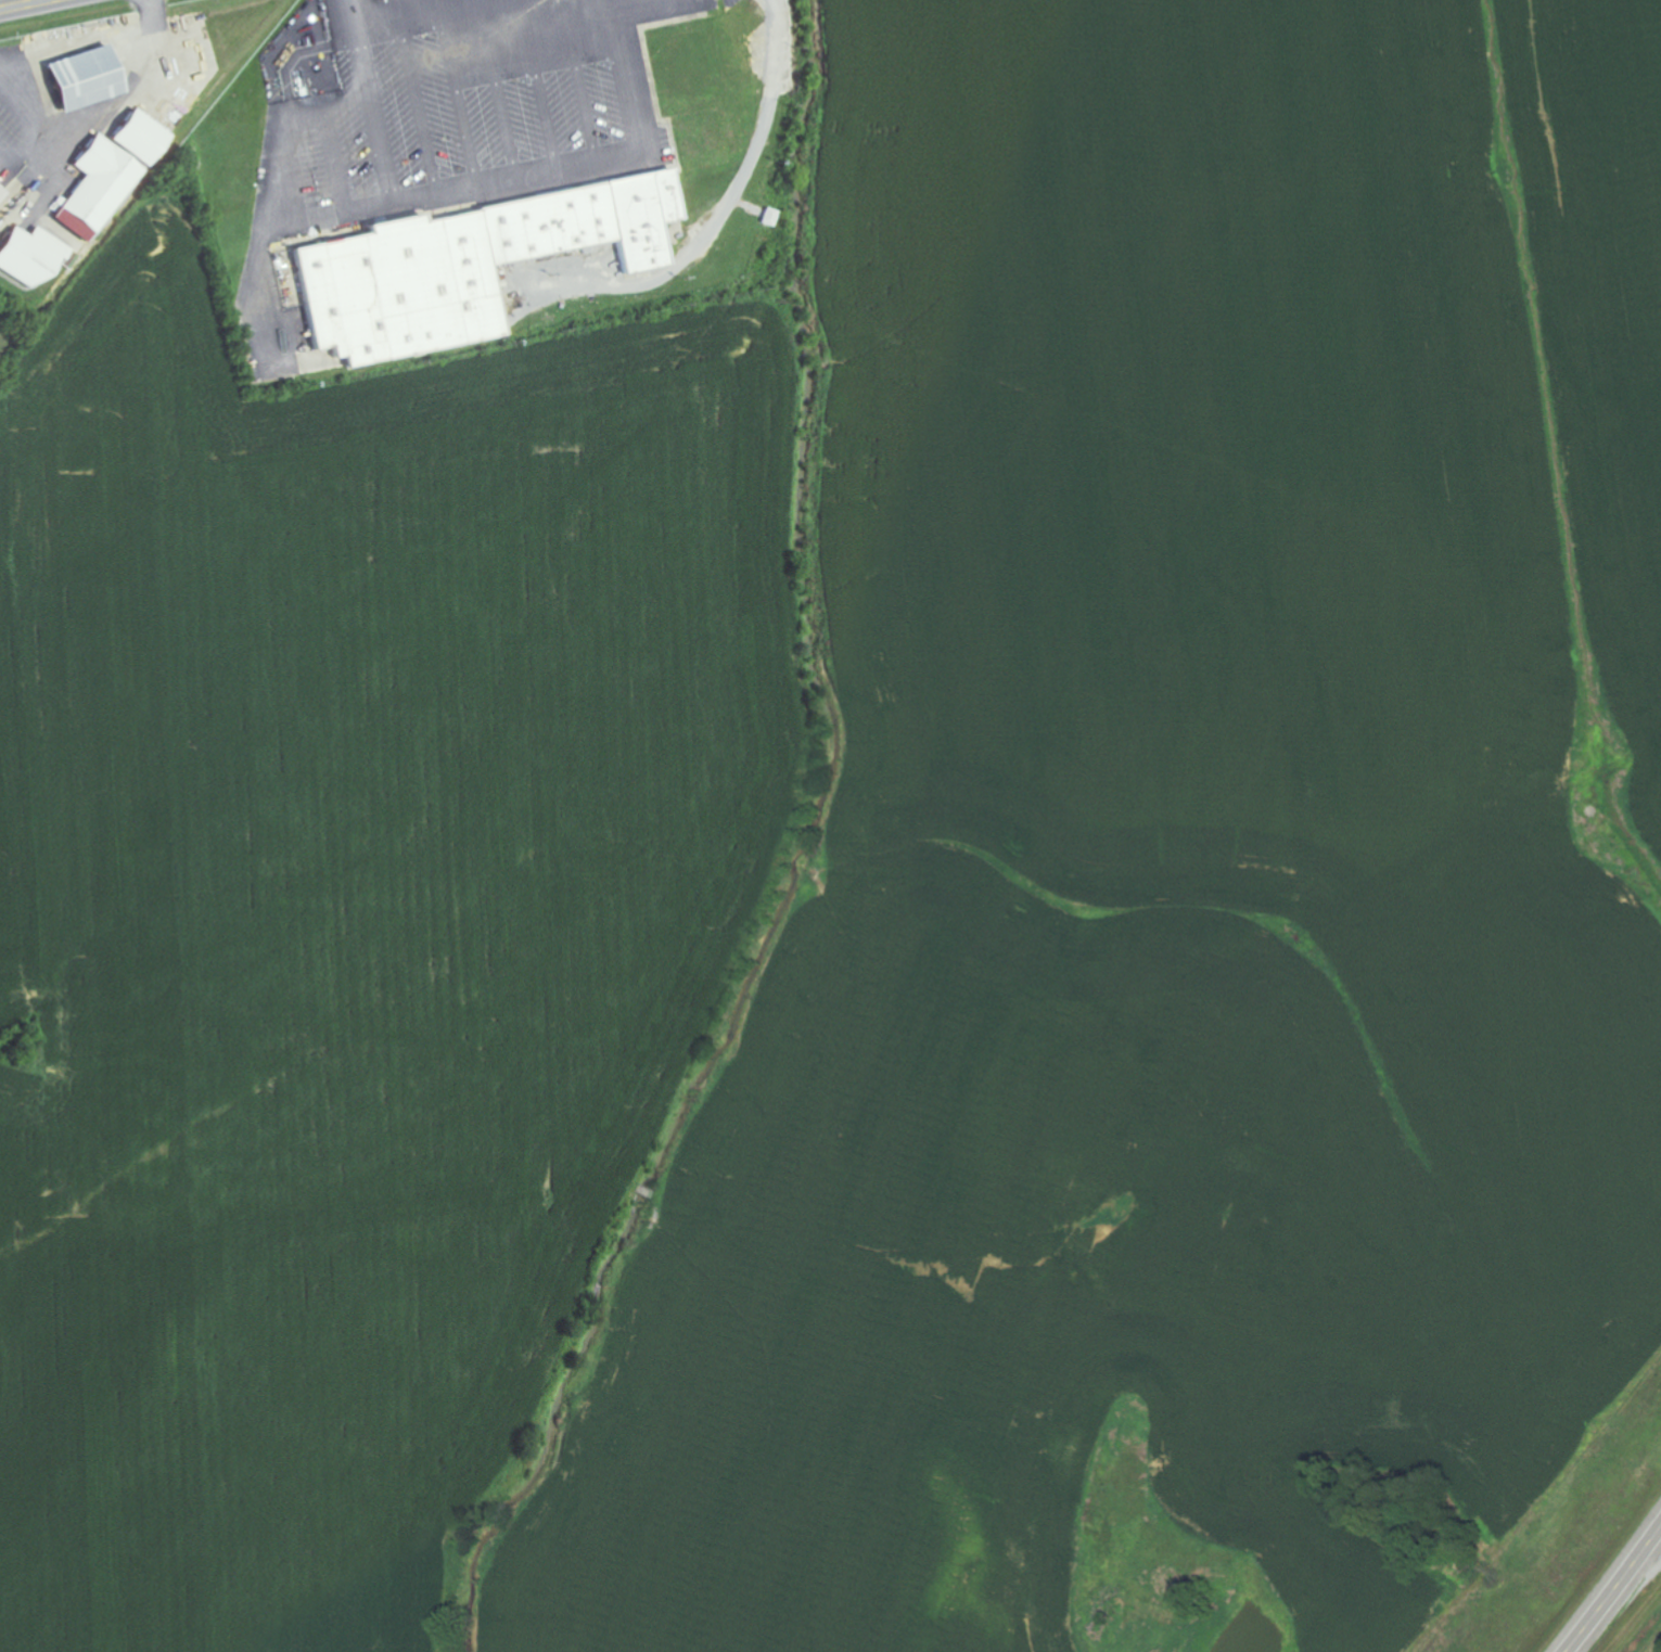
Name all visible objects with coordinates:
road: (23, 4)
building: (86, 78)
building: (139, 138)
building: (0, 193)
building: (99, 193)
building: (33, 257)
building: (467, 266)
road: (1611, 1589)

